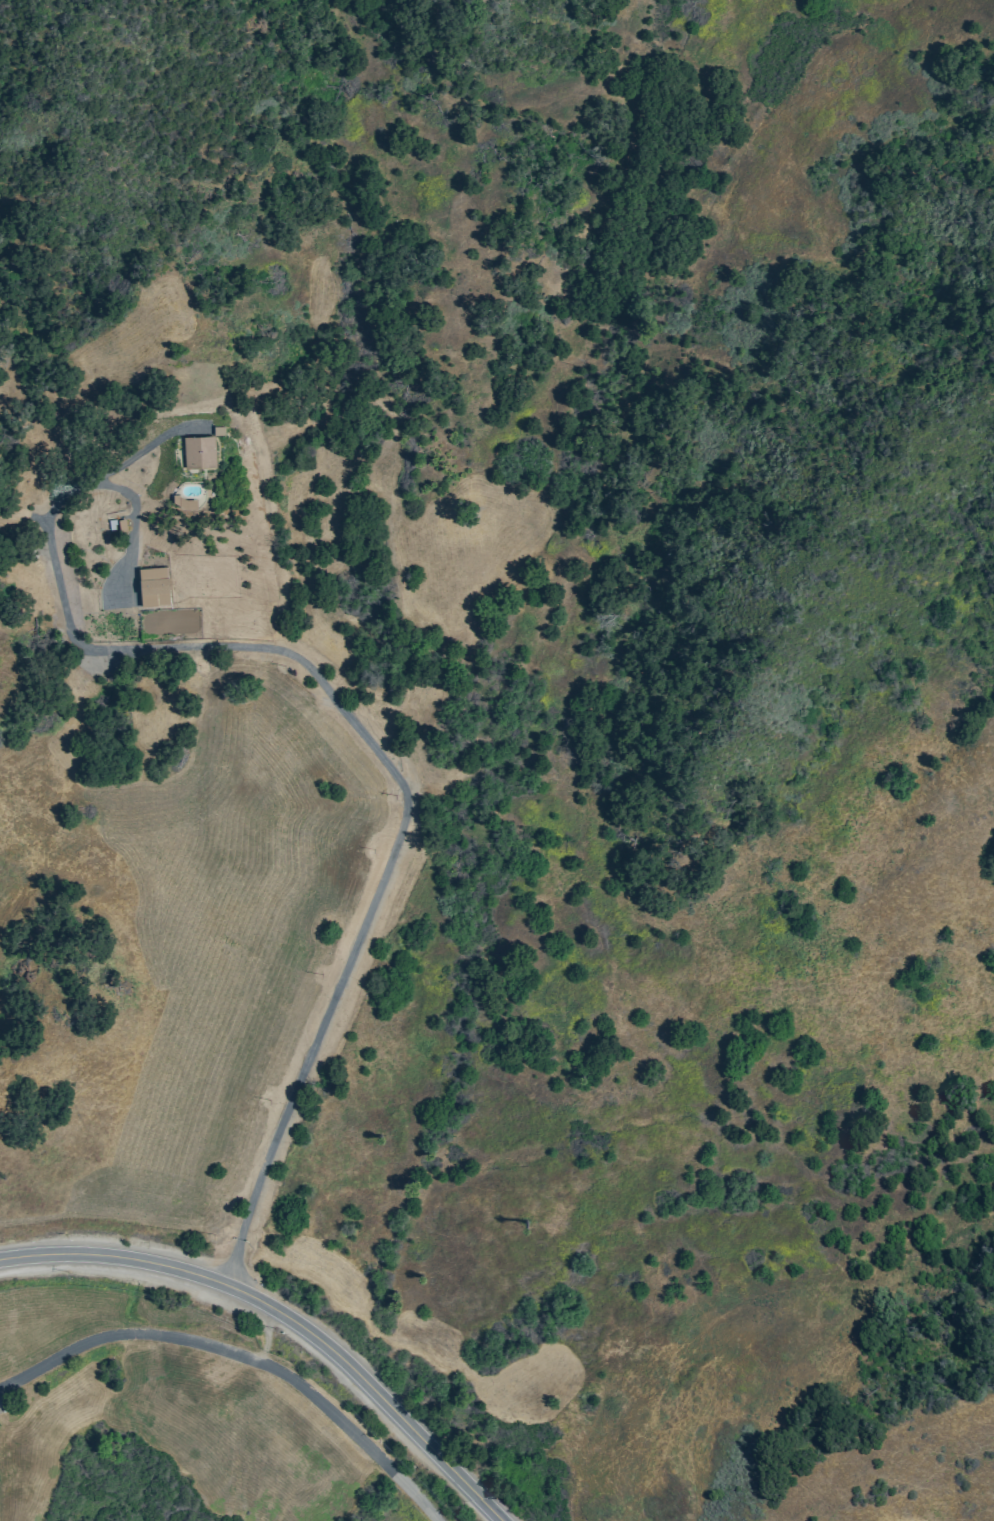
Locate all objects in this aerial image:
building: (199, 451)
road: (120, 488)
building: (153, 586)
road: (214, 644)
road: (311, 1046)
road: (186, 1272)
road: (266, 1336)
road: (243, 1357)
park: (150, 1395)
road: (425, 1443)

